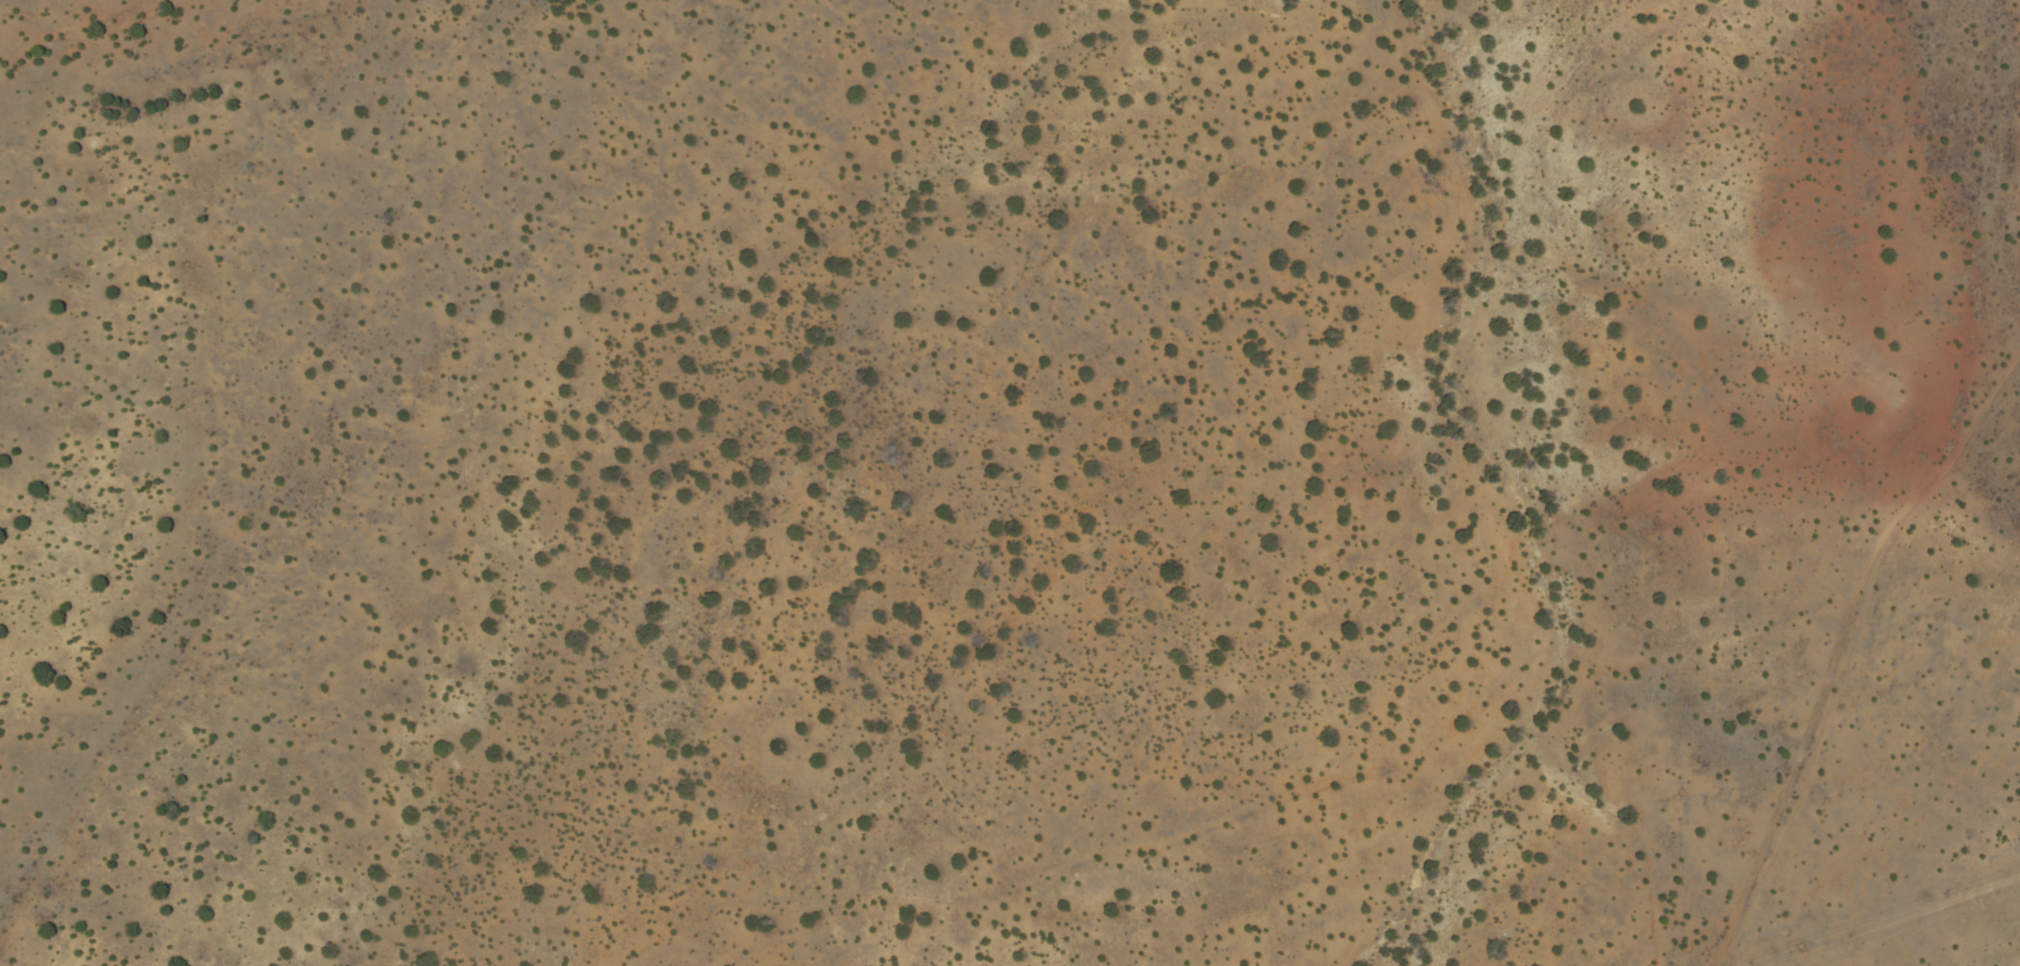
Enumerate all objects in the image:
road: (1847, 619)

